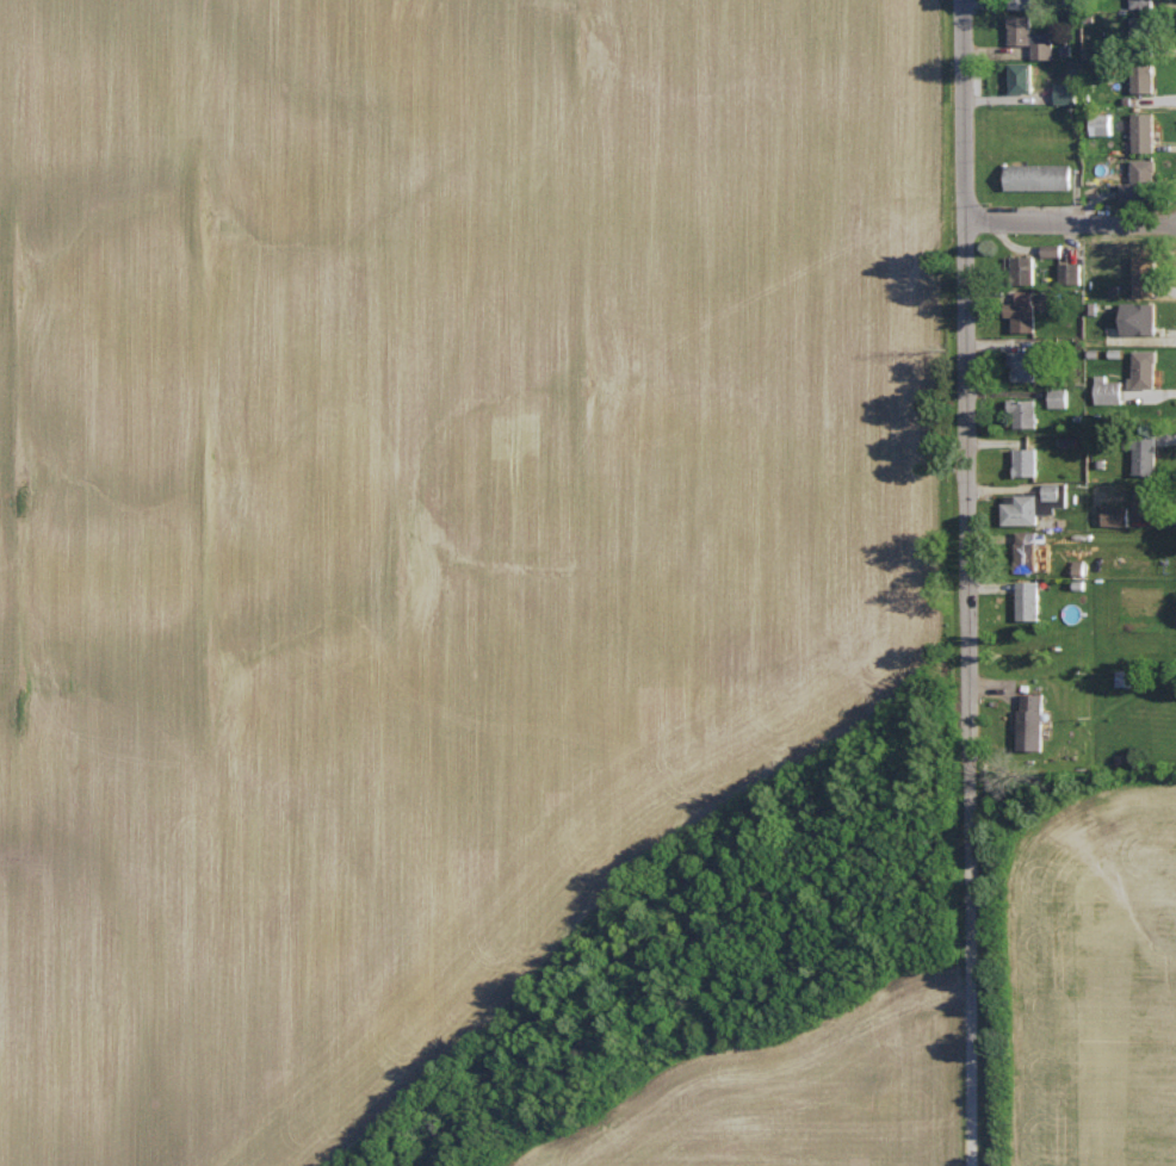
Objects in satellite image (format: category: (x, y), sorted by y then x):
building: (1145, 2)
building: (1023, 4)
building: (1145, 27)
building: (1033, 36)
building: (1025, 76)
building: (1146, 79)
building: (1067, 92)
building: (1106, 124)
building: (1145, 131)
building: (1041, 175)
building: (1144, 181)
road: (1070, 221)
building: (1053, 248)
building: (1027, 266)
building: (1072, 272)
building: (1147, 274)
building: (1026, 310)
building: (1141, 316)
building: (1025, 364)
building: (1147, 367)
building: (1109, 389)
building: (1060, 396)
building: (1027, 410)
building: (1147, 454)
building: (1028, 460)
building: (1149, 498)
building: (1038, 502)
building: (1118, 513)
building: (1029, 548)
road: (968, 582)
building: (1030, 598)
building: (1127, 676)
building: (1034, 720)

